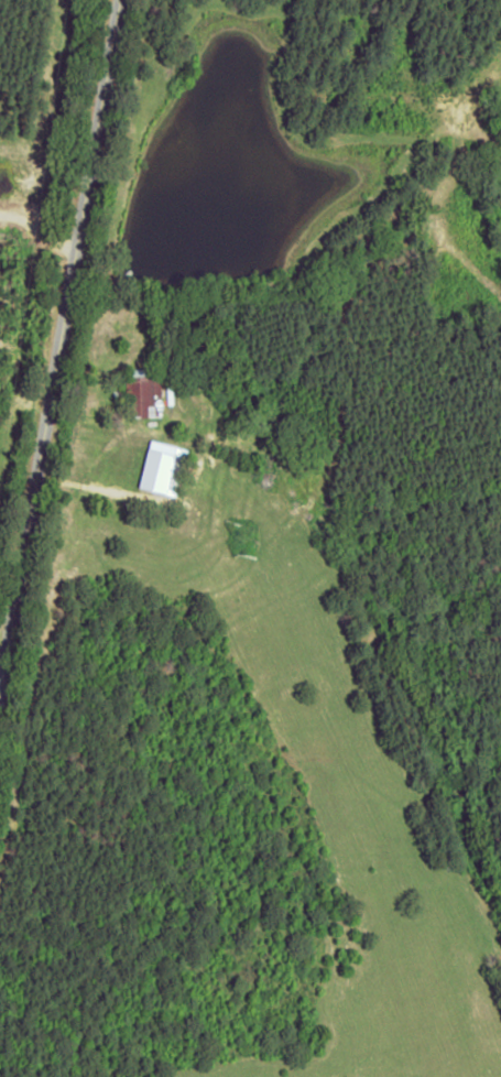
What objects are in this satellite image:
road: (80, 359)
building: (160, 470)

